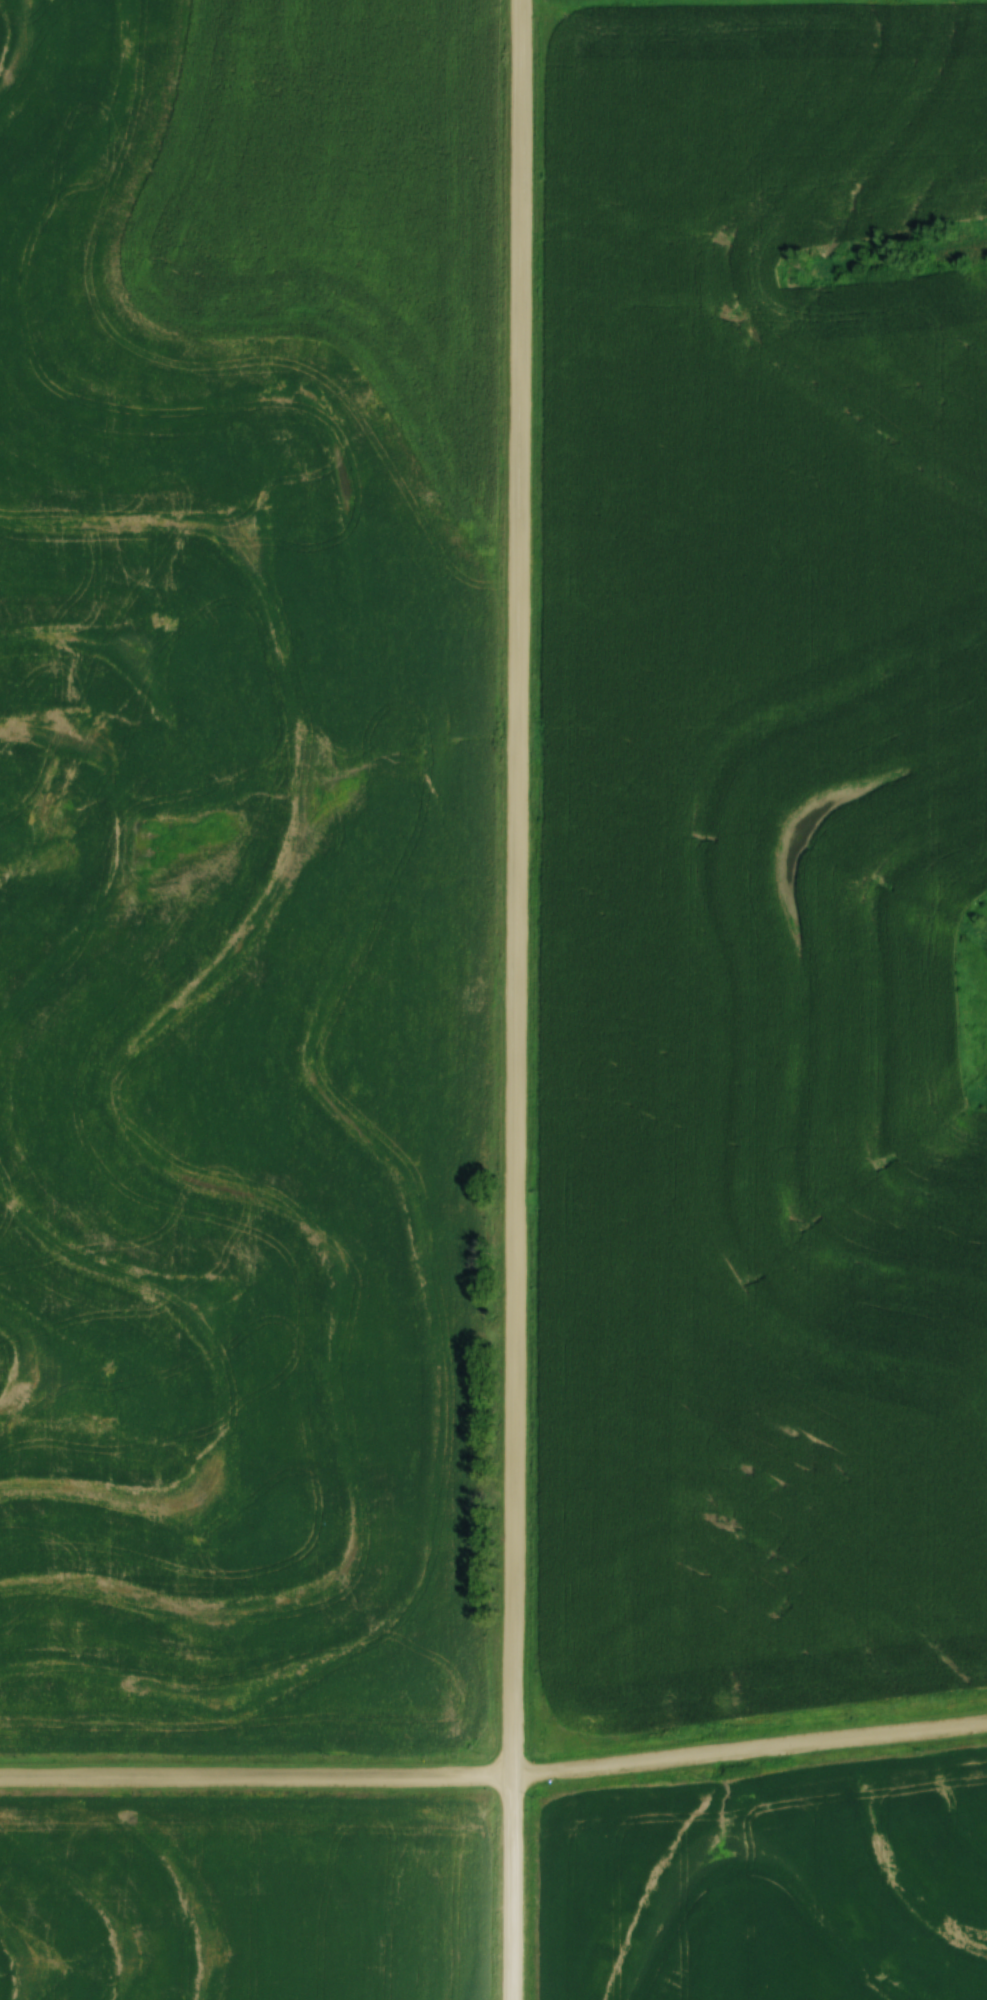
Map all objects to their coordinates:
road: (516, 887)
road: (494, 1774)
road: (512, 1887)

